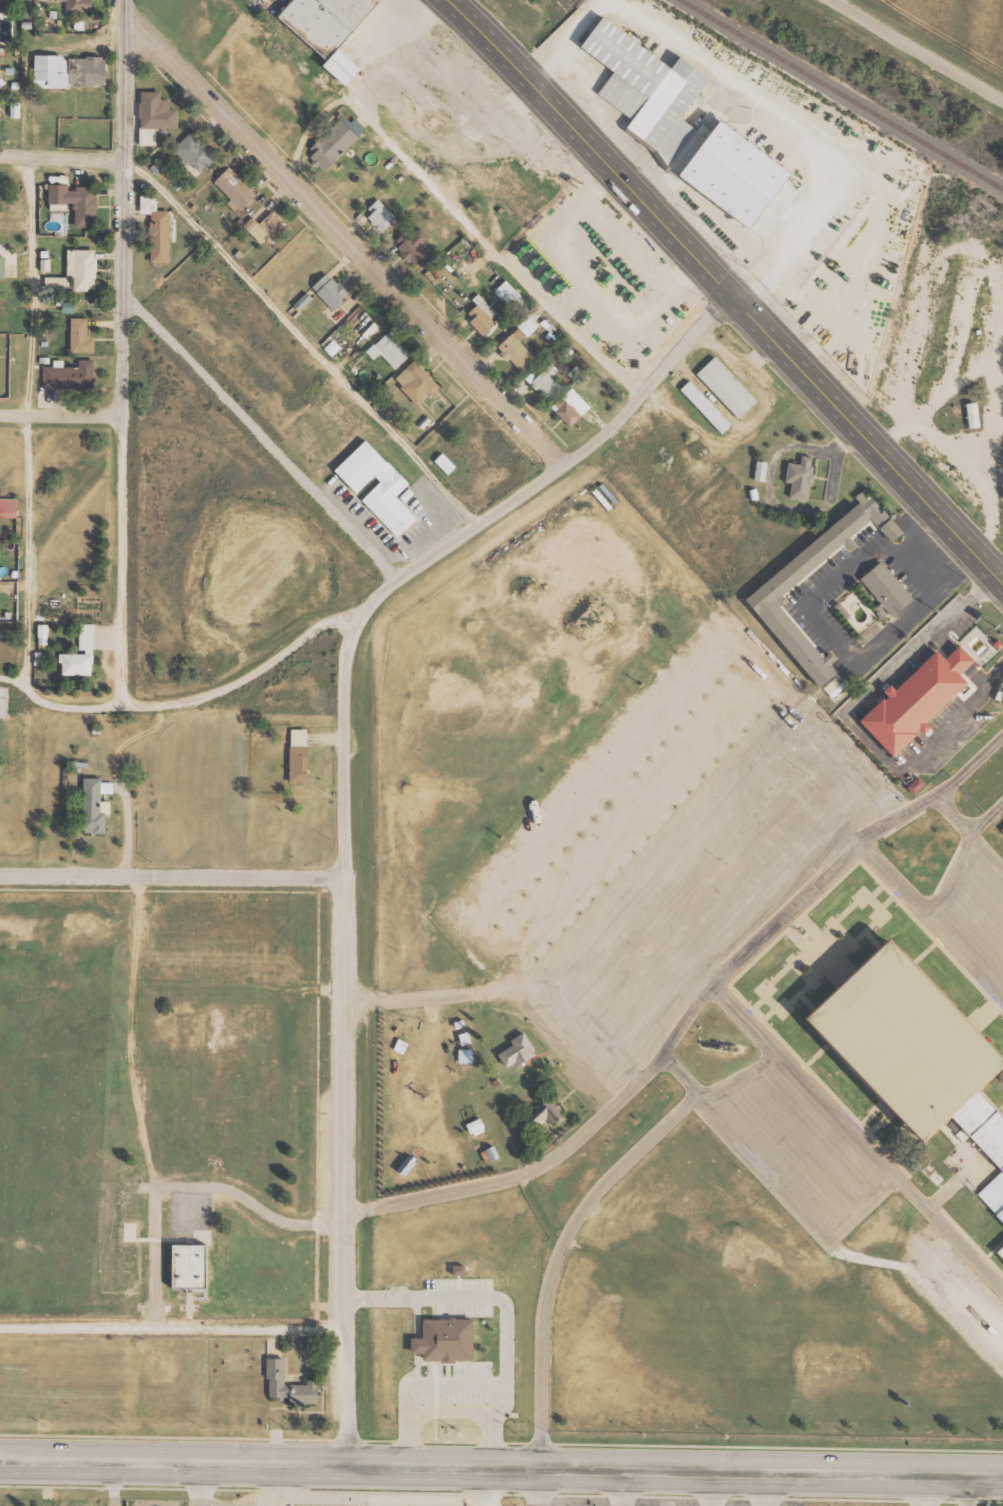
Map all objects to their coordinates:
building: (80, 7)
building: (327, 22)
road: (921, 47)
building: (0, 64)
building: (344, 66)
building: (52, 69)
building: (89, 70)
building: (642, 90)
railway: (840, 91)
building: (156, 116)
building: (333, 144)
building: (196, 152)
building: (689, 153)
road: (61, 157)
building: (739, 174)
building: (236, 187)
building: (76, 203)
building: (381, 214)
road: (457, 216)
building: (267, 228)
building: (161, 236)
road: (350, 240)
building: (414, 246)
building: (2, 267)
building: (78, 271)
road: (725, 290)
building: (332, 291)
building: (483, 316)
building: (529, 326)
building: (81, 336)
road: (304, 339)
building: (392, 350)
building: (517, 350)
road: (127, 351)
building: (70, 375)
building: (417, 382)
building: (547, 382)
building: (727, 387)
building: (571, 407)
building: (706, 407)
road: (63, 415)
building: (974, 415)
road: (23, 417)
road: (264, 433)
building: (446, 463)
building: (762, 471)
road: (552, 474)
building: (802, 477)
building: (382, 494)
building: (8, 507)
building: (784, 579)
building: (883, 595)
road: (935, 628)
building: (43, 634)
building: (87, 636)
building: (78, 663)
building: (833, 688)
road: (182, 699)
building: (910, 708)
road: (343, 752)
building: (300, 755)
building: (917, 785)
building: (95, 805)
building: (1002, 830)
road: (172, 877)
road: (696, 1015)
building: (518, 1051)
building: (901, 1051)
building: (466, 1055)
park: (457, 1093)
park: (164, 1104)
building: (545, 1115)
building: (477, 1127)
road: (861, 1136)
building: (408, 1164)
road: (349, 1170)
building: (999, 1252)
building: (193, 1266)
building: (460, 1269)
road: (175, 1327)
building: (439, 1339)
building: (291, 1386)
road: (501, 1466)

